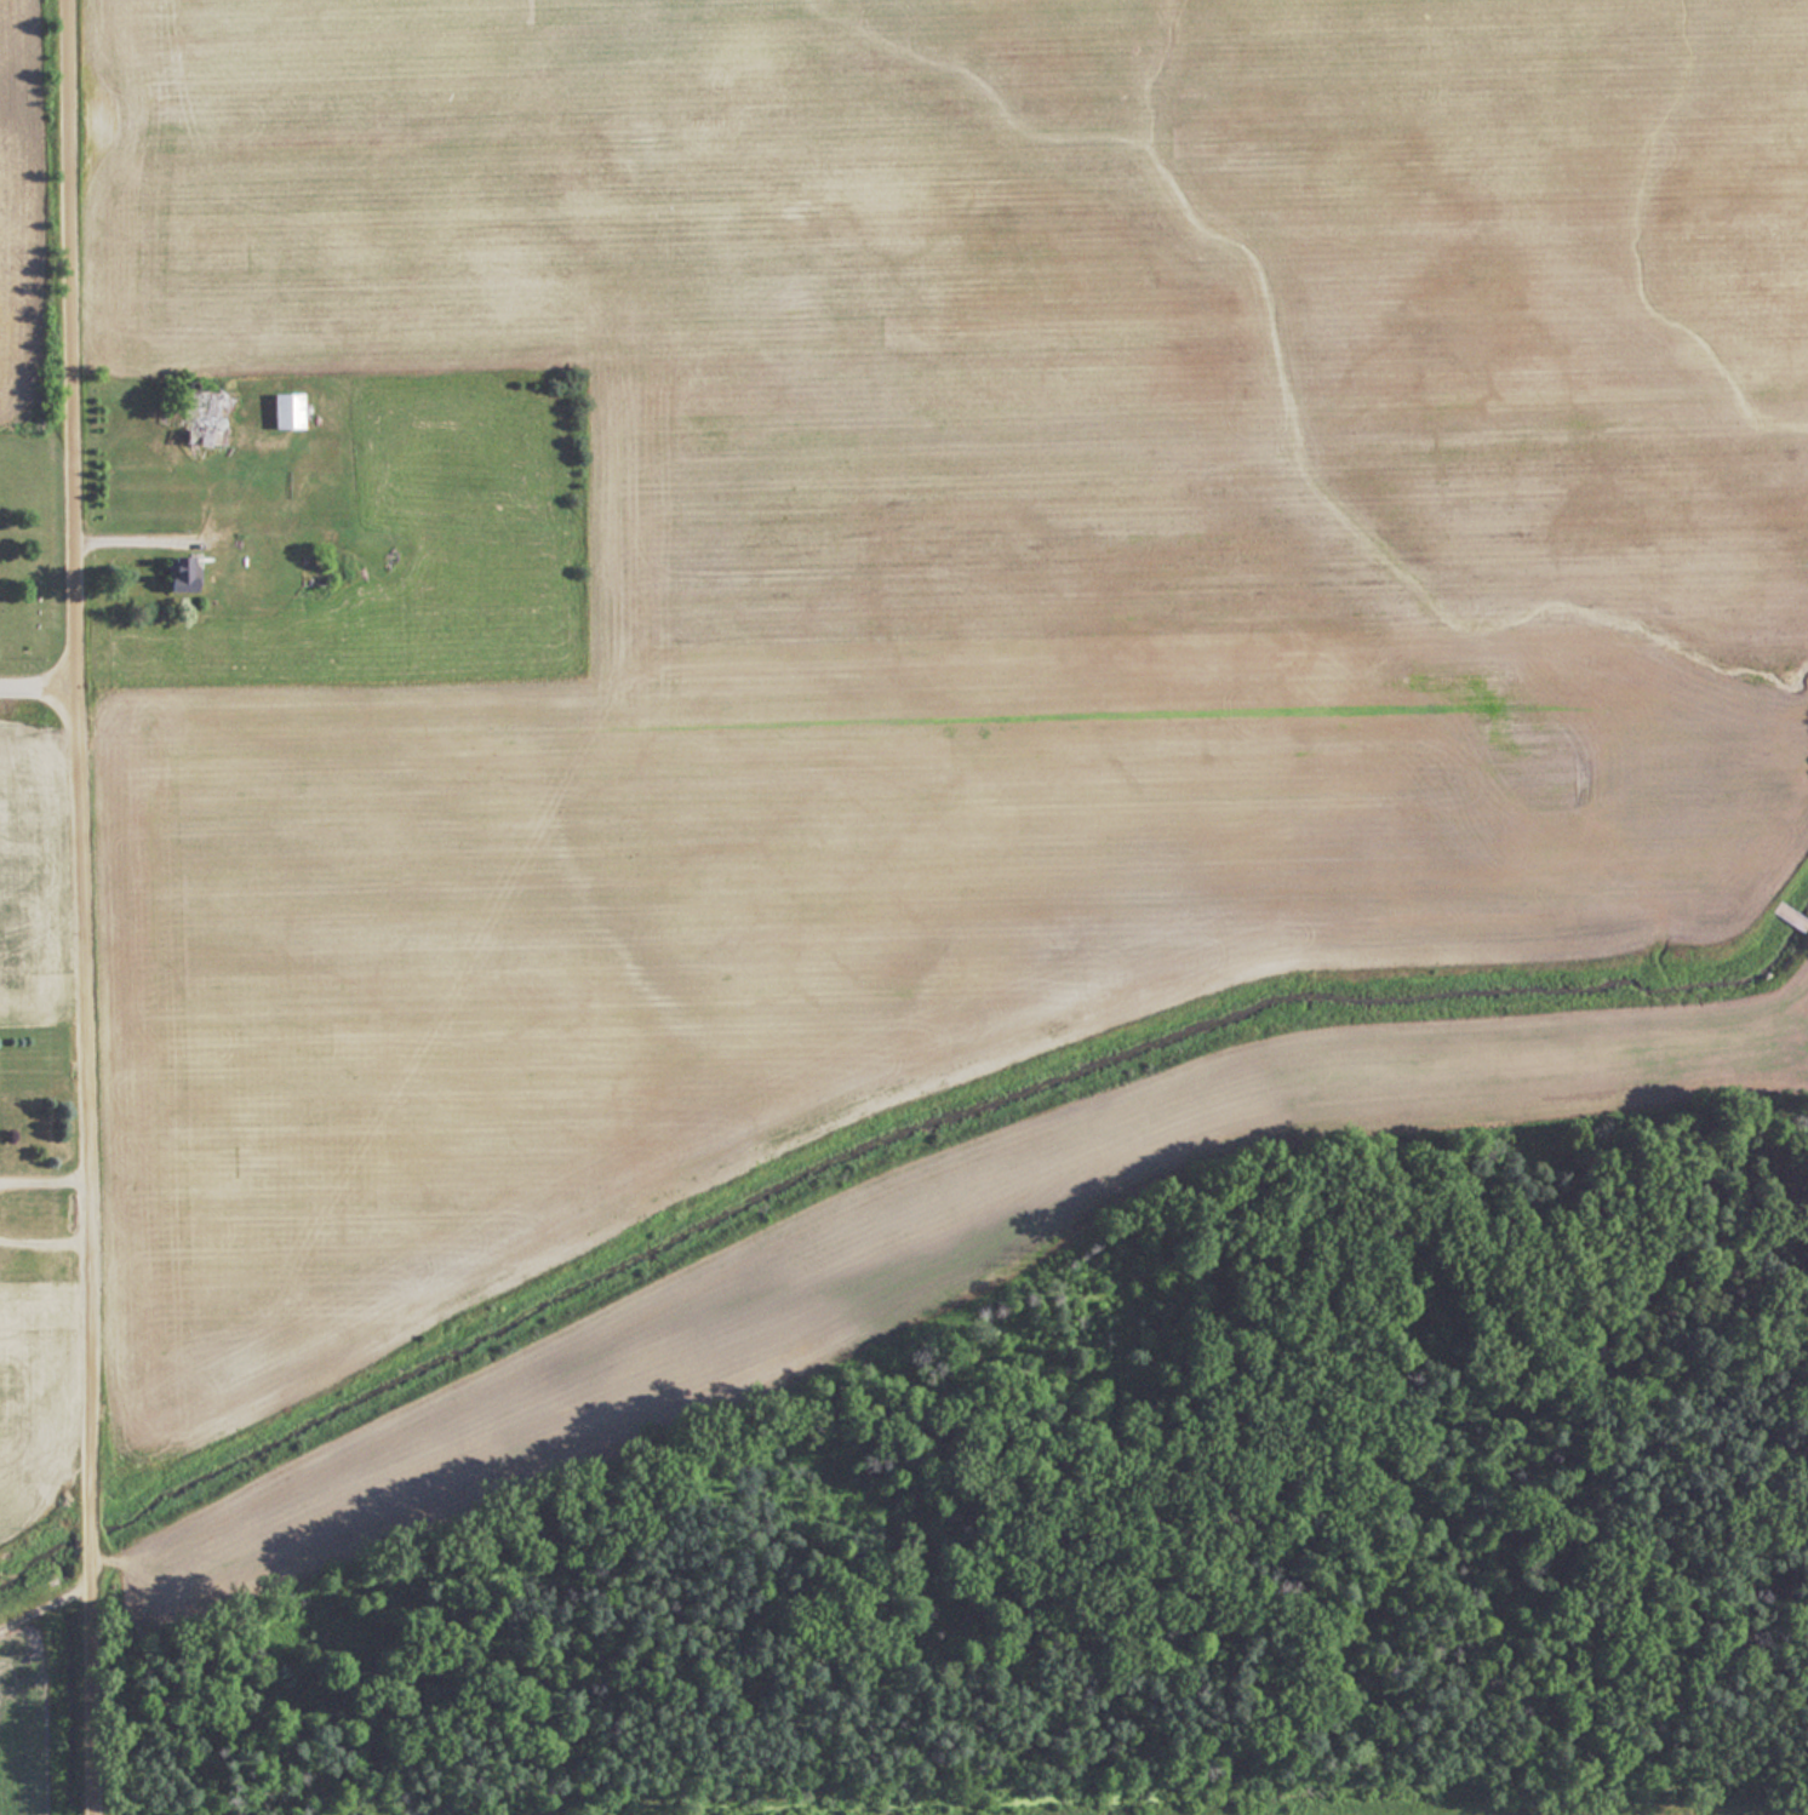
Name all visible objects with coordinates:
building: (281, 412)
building: (193, 420)
building: (305, 538)
building: (176, 574)
road: (40, 691)
road: (82, 906)
building: (1790, 916)
road: (44, 1174)
road: (44, 1236)
building: (1597, 1805)

